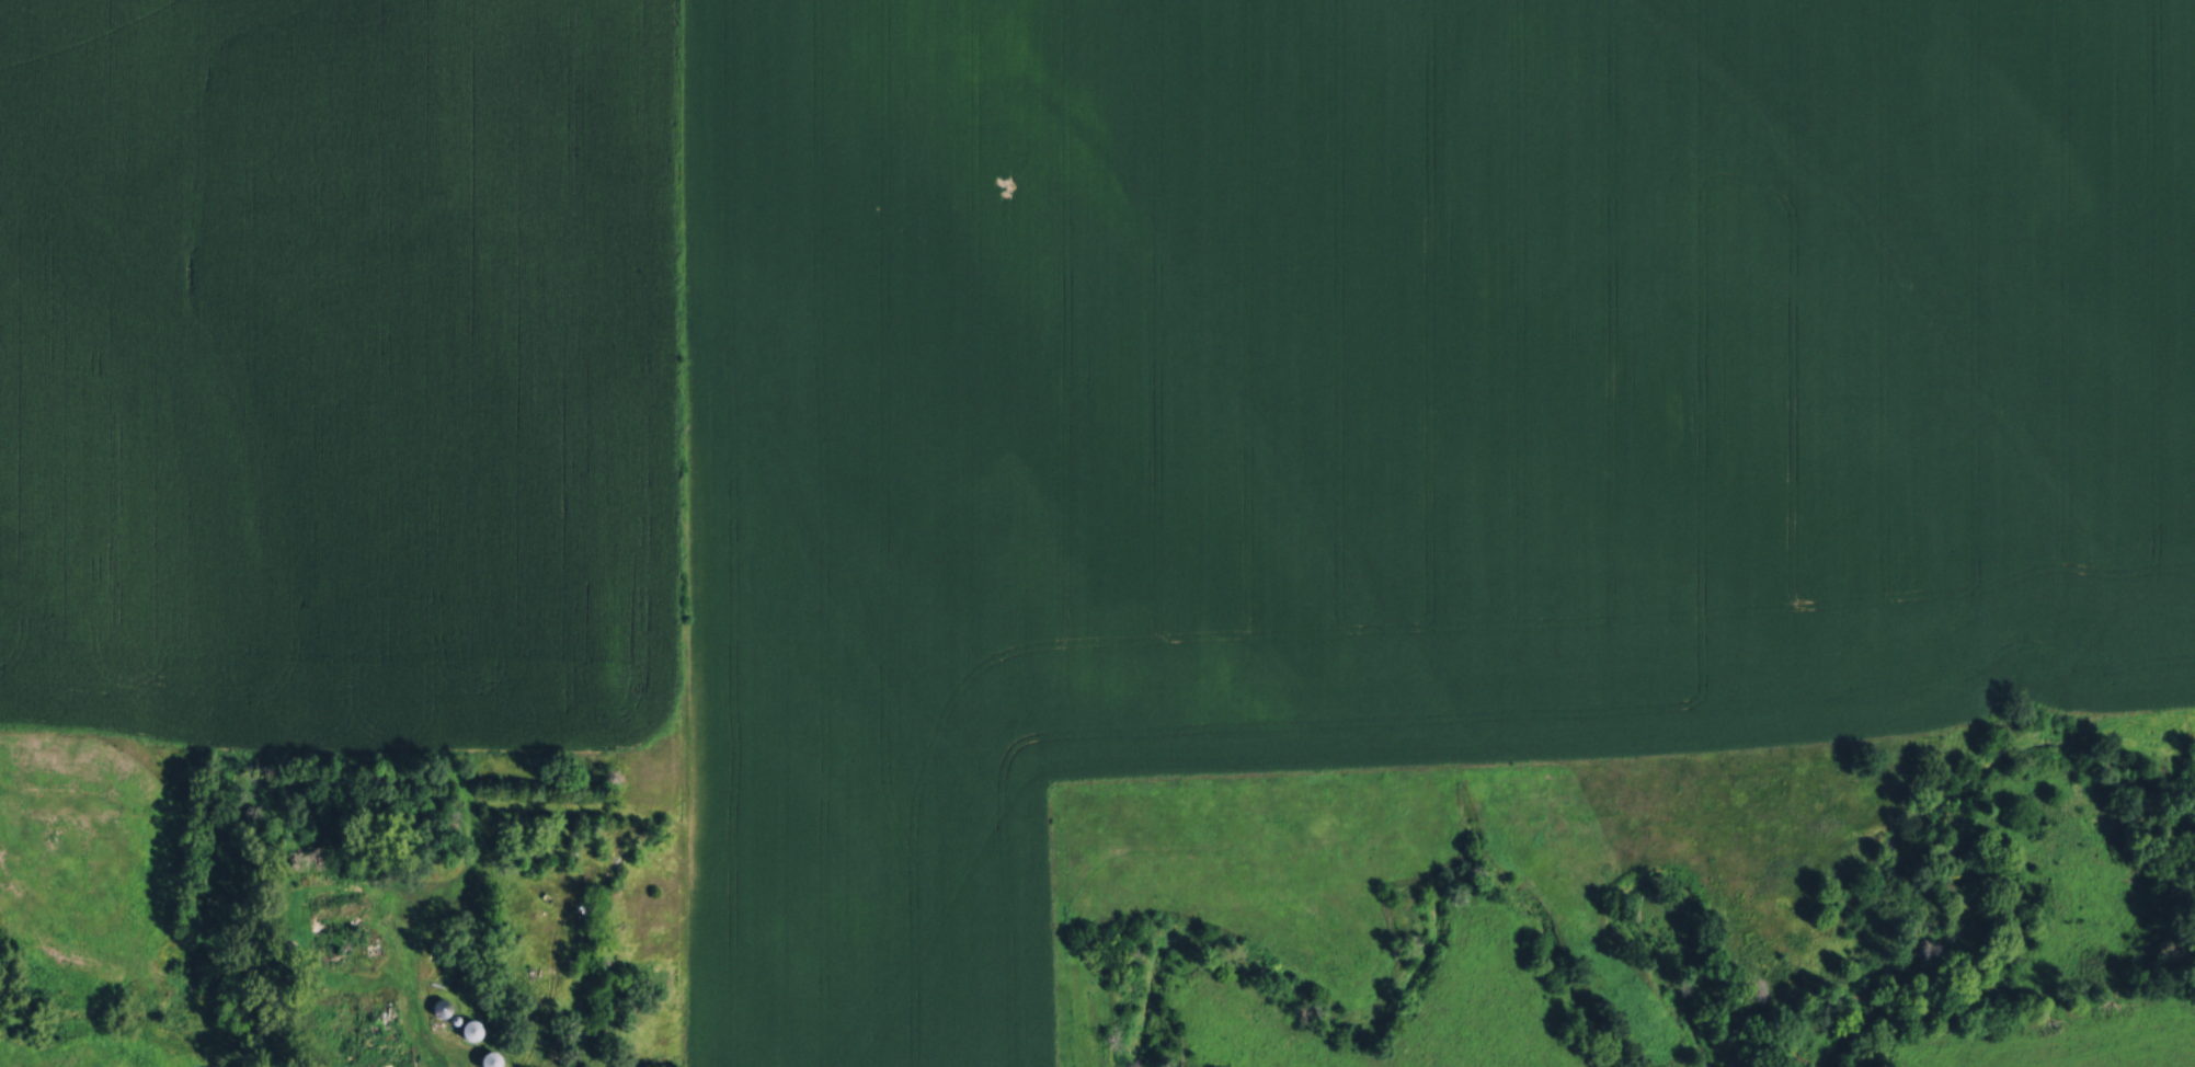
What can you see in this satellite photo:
building: (438, 1006)
building: (467, 1028)
building: (485, 1058)

